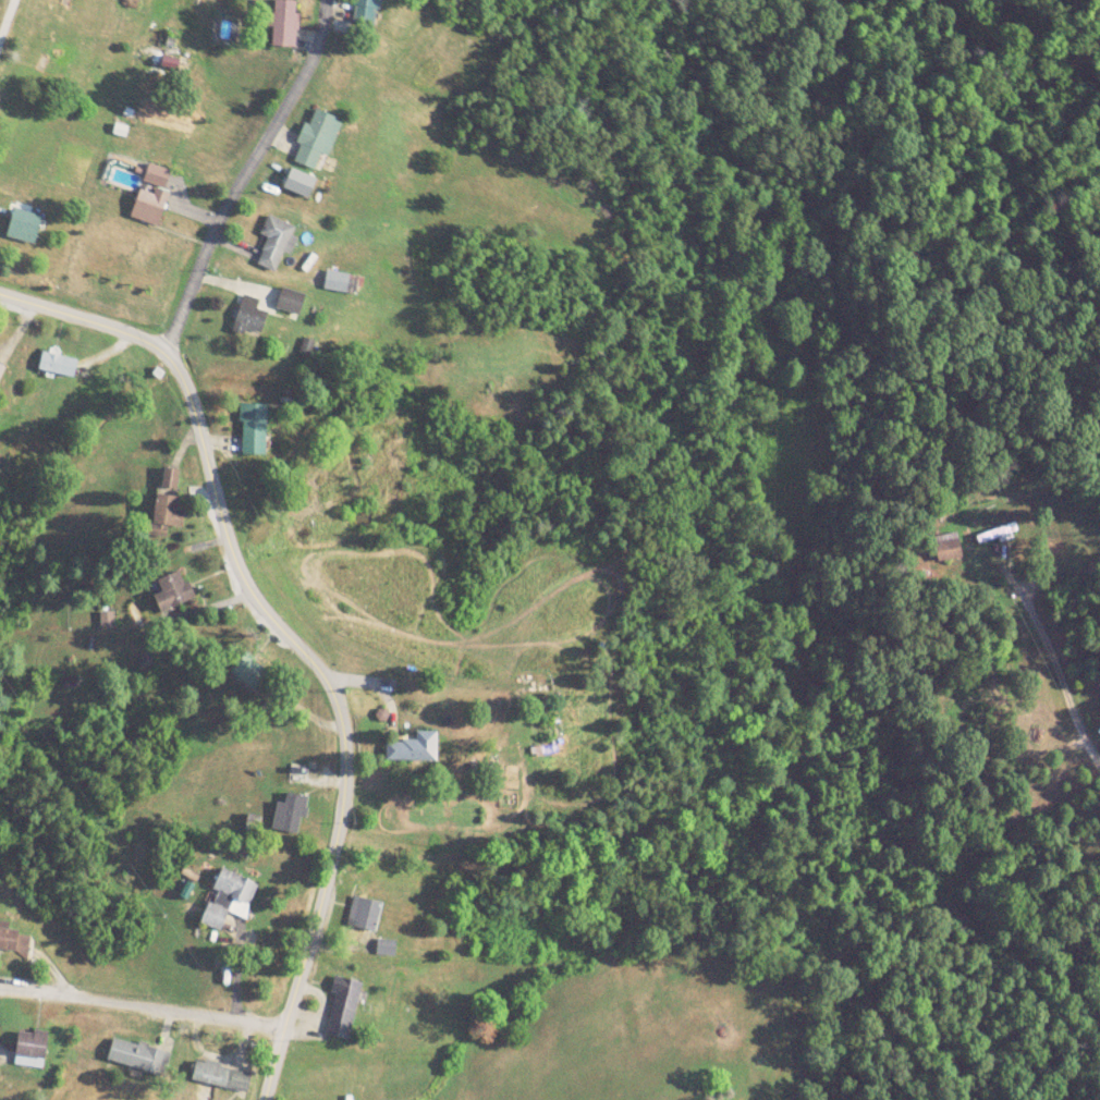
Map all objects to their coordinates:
road: (4, 12)
building: (366, 13)
building: (284, 24)
building: (48, 64)
building: (317, 137)
building: (151, 194)
building: (25, 224)
building: (276, 241)
building: (342, 281)
building: (291, 300)
building: (249, 316)
building: (59, 363)
building: (254, 429)
building: (168, 510)
building: (173, 590)
road: (258, 607)
building: (107, 620)
road: (1052, 668)
building: (249, 671)
building: (1098, 731)
building: (414, 747)
building: (290, 814)
building: (229, 897)
building: (364, 914)
building: (11, 940)
road: (146, 1003)
building: (343, 1007)
building: (32, 1048)
building: (138, 1055)
road: (280, 1060)
building: (221, 1075)

